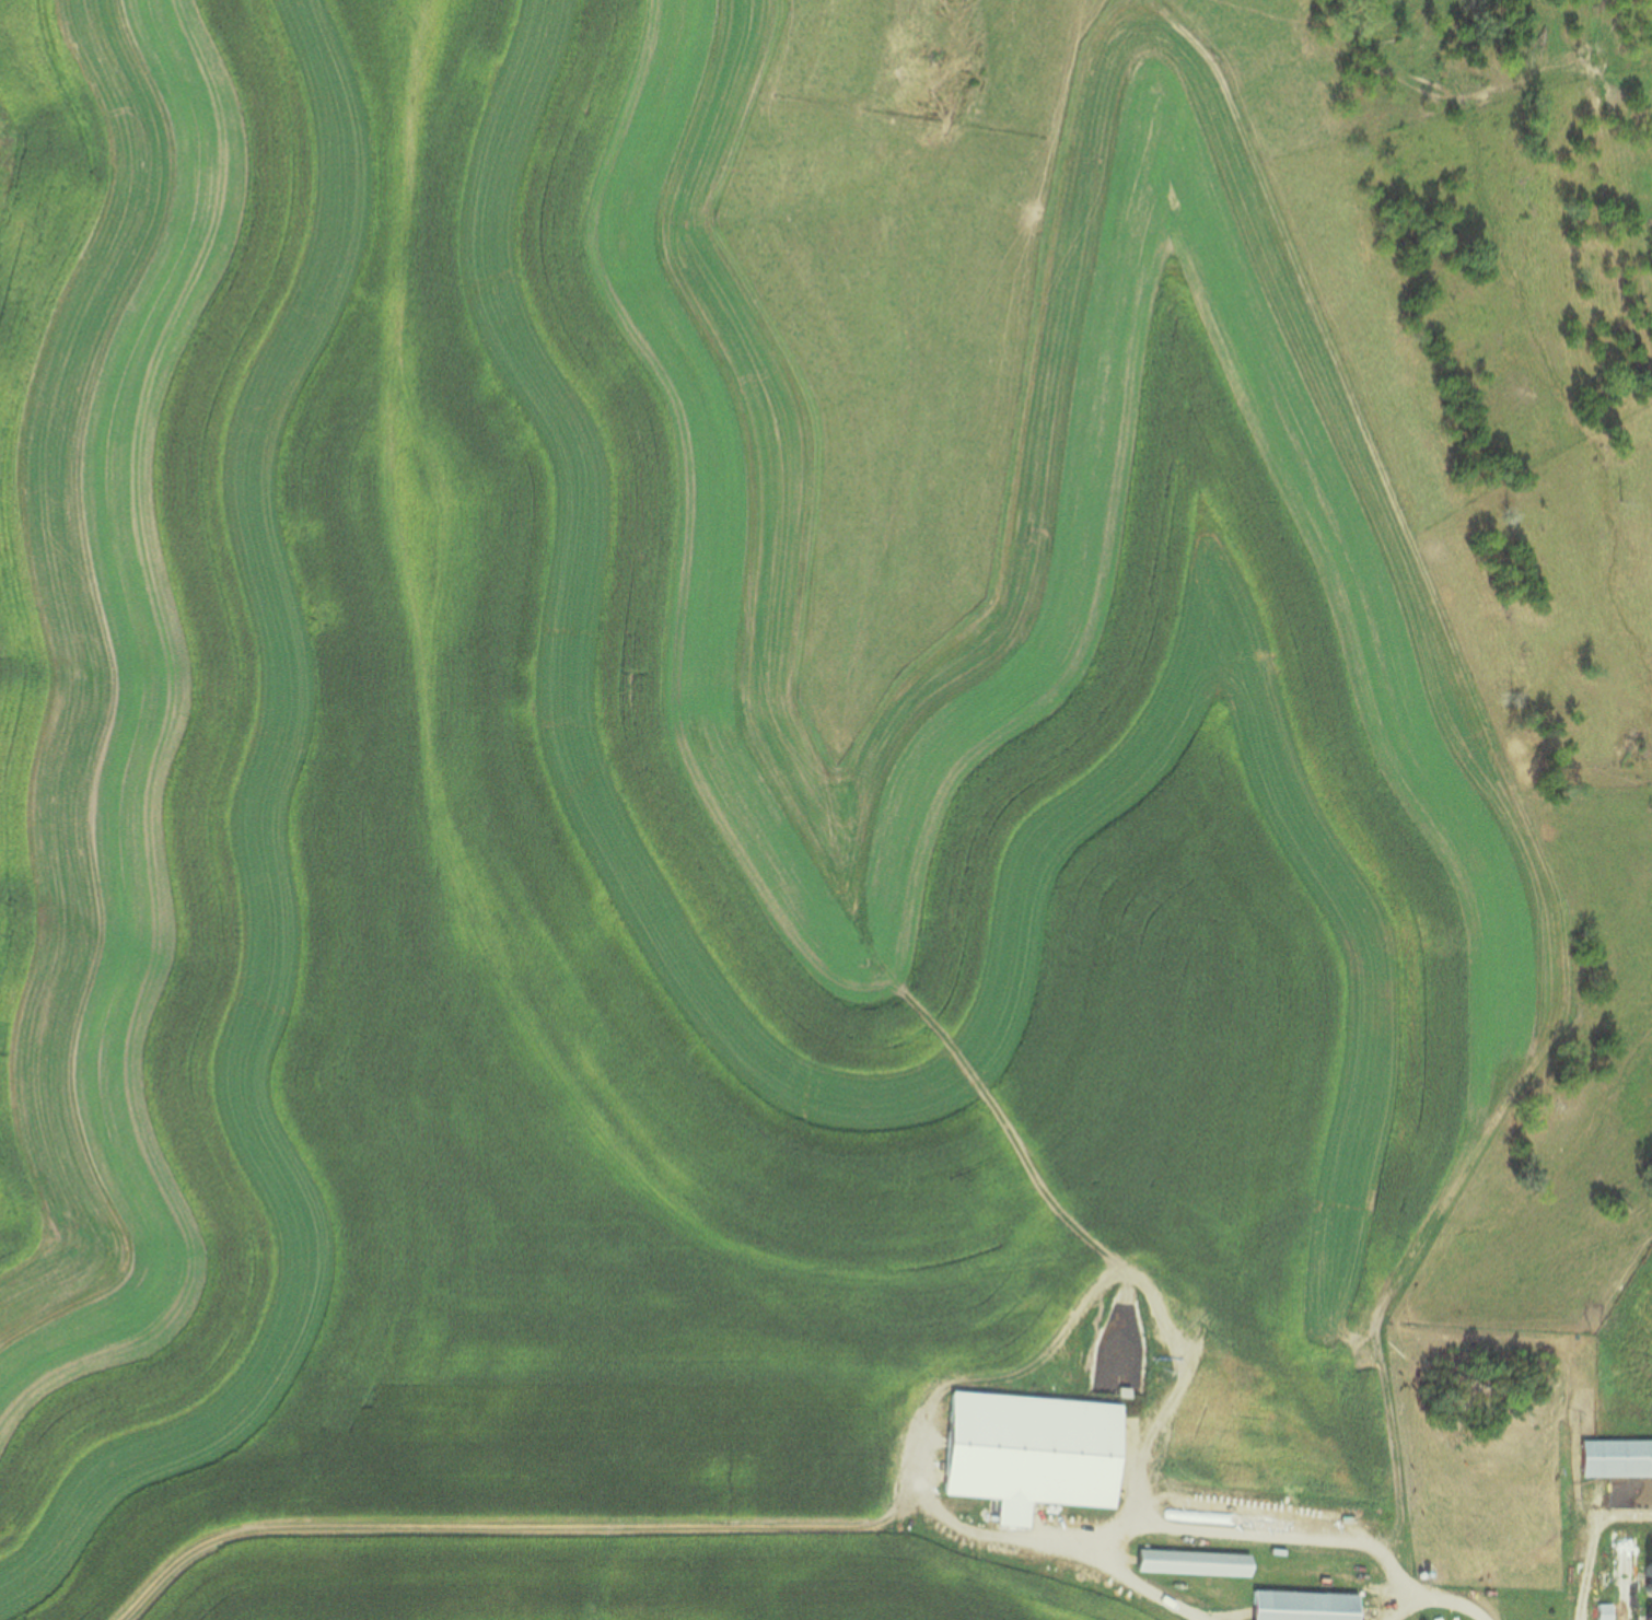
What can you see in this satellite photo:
building: (1614, 1456)
building: (1194, 1561)
building: (1621, 1580)
road: (1441, 1594)
building: (1300, 1605)

